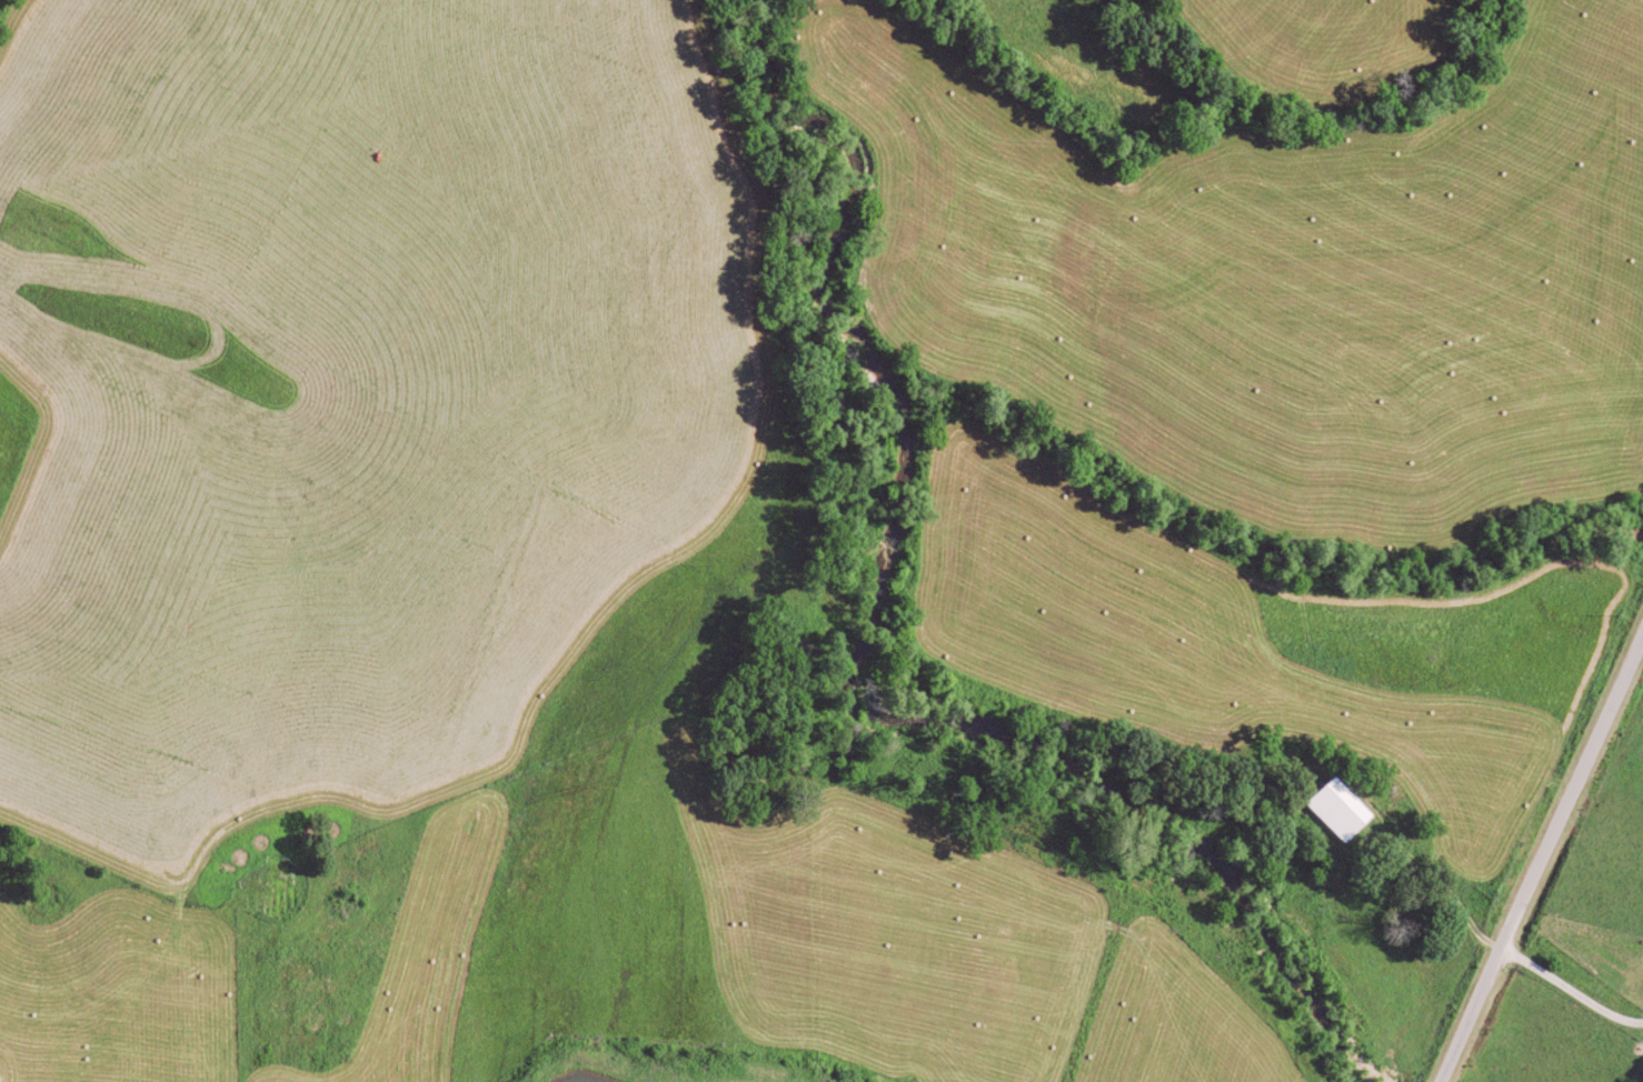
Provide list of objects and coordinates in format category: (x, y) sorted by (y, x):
road: (1542, 861)
road: (1435, 880)
road: (1569, 989)

